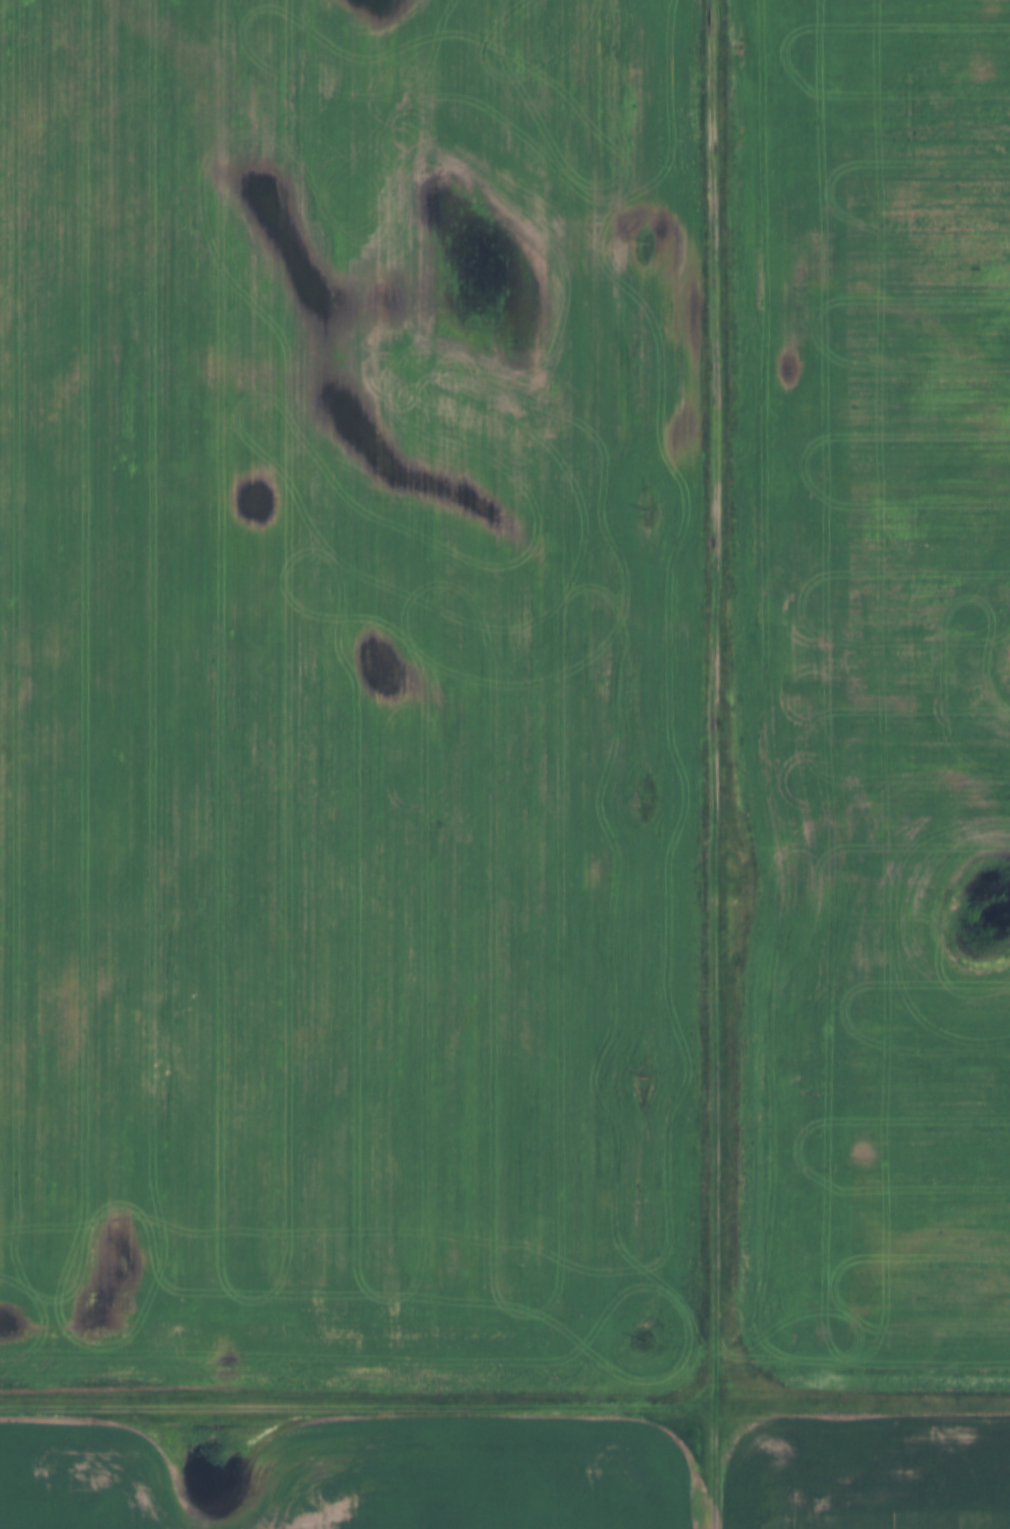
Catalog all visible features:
road: (717, 764)
road: (504, 1405)

